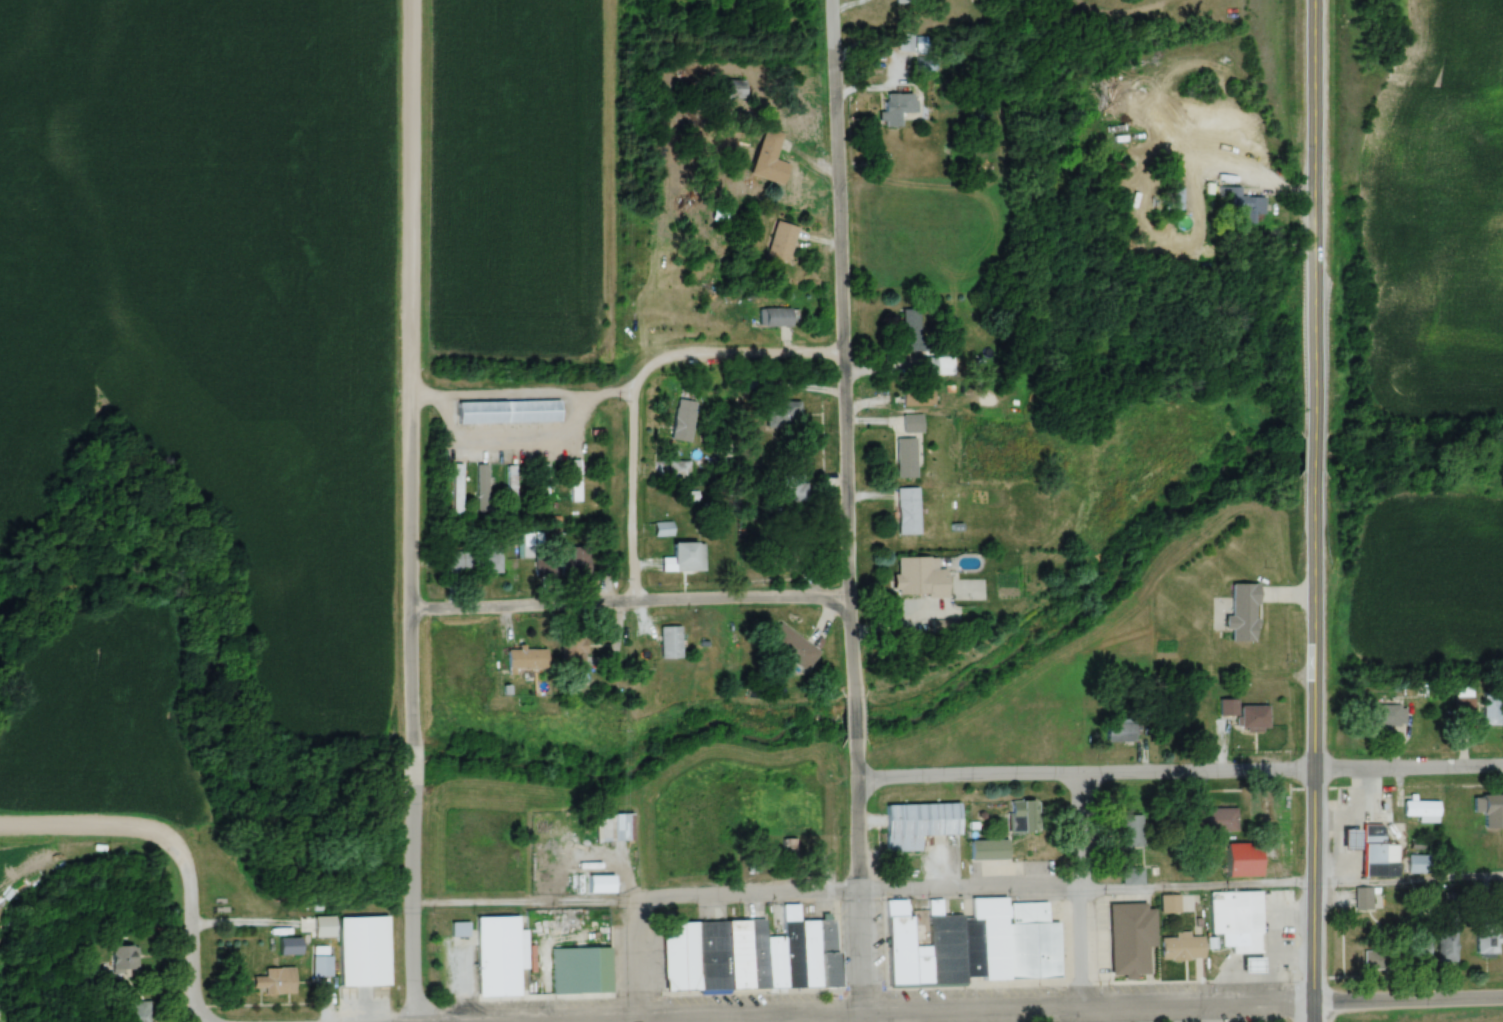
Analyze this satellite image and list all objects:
building: (904, 1)
building: (903, 42)
building: (927, 63)
building: (736, 89)
building: (897, 107)
building: (770, 158)
crop: (512, 175)
road: (411, 186)
building: (1239, 204)
road: (1315, 214)
building: (782, 242)
building: (775, 318)
building: (911, 336)
road: (845, 345)
road: (743, 362)
building: (928, 367)
building: (918, 397)
building: (508, 409)
building: (783, 417)
building: (683, 421)
building: (912, 424)
road: (1315, 446)
building: (905, 453)
building: (678, 470)
building: (575, 481)
building: (511, 487)
building: (481, 488)
building: (543, 488)
building: (457, 489)
building: (793, 489)
road: (633, 490)
building: (908, 511)
building: (688, 554)
road: (411, 559)
building: (470, 560)
building: (577, 562)
building: (921, 578)
road: (631, 605)
building: (1243, 613)
building: (670, 643)
building: (792, 647)
building: (572, 651)
building: (526, 660)
building: (1491, 709)
building: (1463, 712)
road: (854, 713)
building: (1245, 715)
building: (1385, 716)
building: (1122, 731)
road: (1316, 734)
road: (411, 760)
road: (1409, 769)
road: (1086, 775)
building: (1421, 810)
building: (1490, 811)
building: (1022, 817)
building: (1215, 820)
road: (93, 822)
building: (918, 825)
building: (1132, 832)
building: (1349, 839)
gas station: (1349, 839)
building: (788, 850)
building: (989, 851)
building: (1378, 854)
building: (1244, 861)
building: (1419, 865)
building: (1133, 876)
road: (858, 878)
building: (600, 882)
road: (1069, 889)
road: (1084, 891)
road: (412, 897)
road: (524, 899)
building: (1366, 899)
building: (1170, 905)
building: (1236, 921)
building: (324, 927)
road: (188, 930)
building: (459, 930)
building: (1131, 938)
building: (973, 945)
building: (1486, 945)
building: (1182, 947)
building: (1416, 947)
building: (1447, 947)
building: (364, 950)
building: (739, 952)
building: (494, 954)
road: (637, 956)
building: (124, 958)
building: (1374, 960)
building: (321, 962)
building: (1252, 965)
gas station: (1252, 965)
building: (581, 970)
building: (276, 982)
road: (1410, 1001)
road: (977, 1010)
building: (139, 1012)
road: (1317, 1013)
road: (203, 1018)
road: (510, 1019)
road: (639, 1020)

